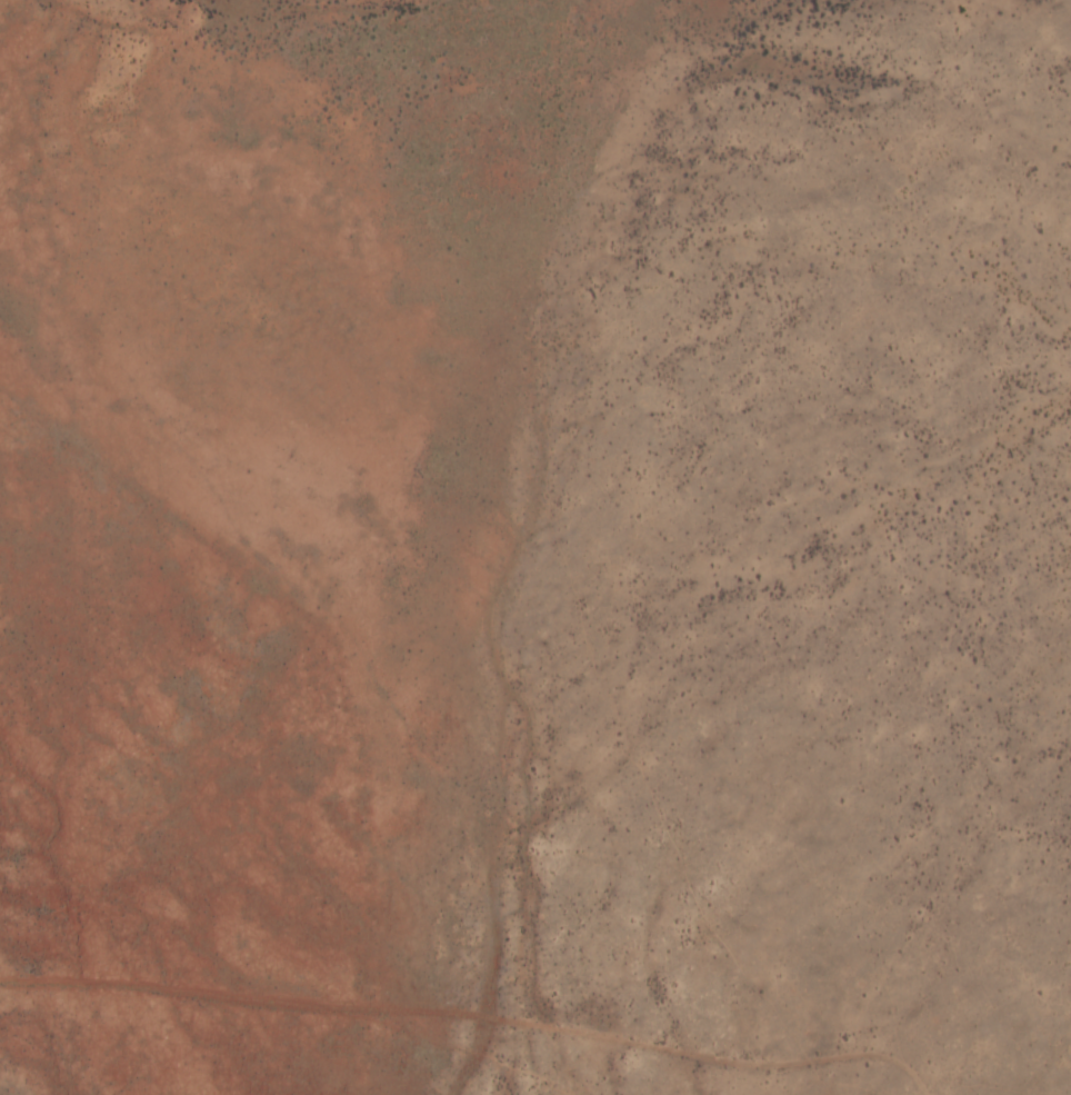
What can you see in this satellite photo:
road: (653, 854)

